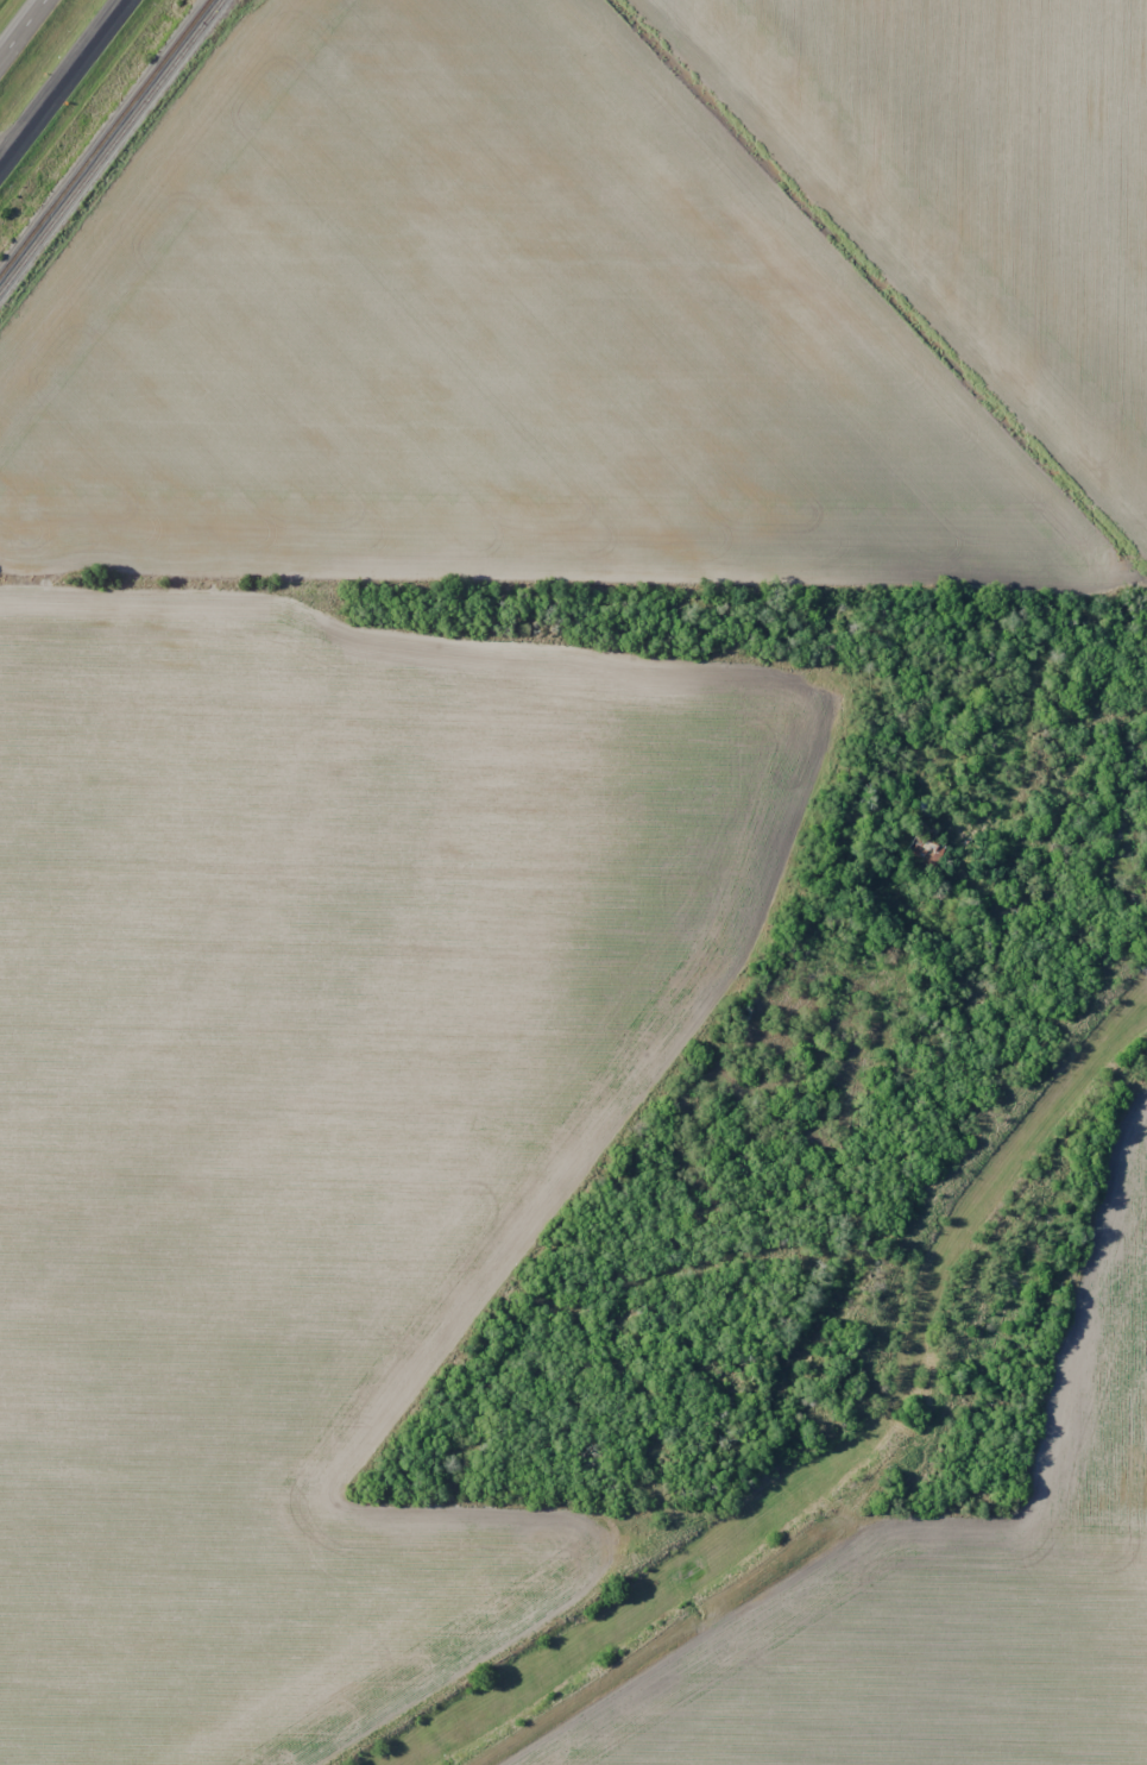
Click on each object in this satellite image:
road: (23, 30)
road: (63, 83)
railway: (103, 136)
railway: (111, 145)

